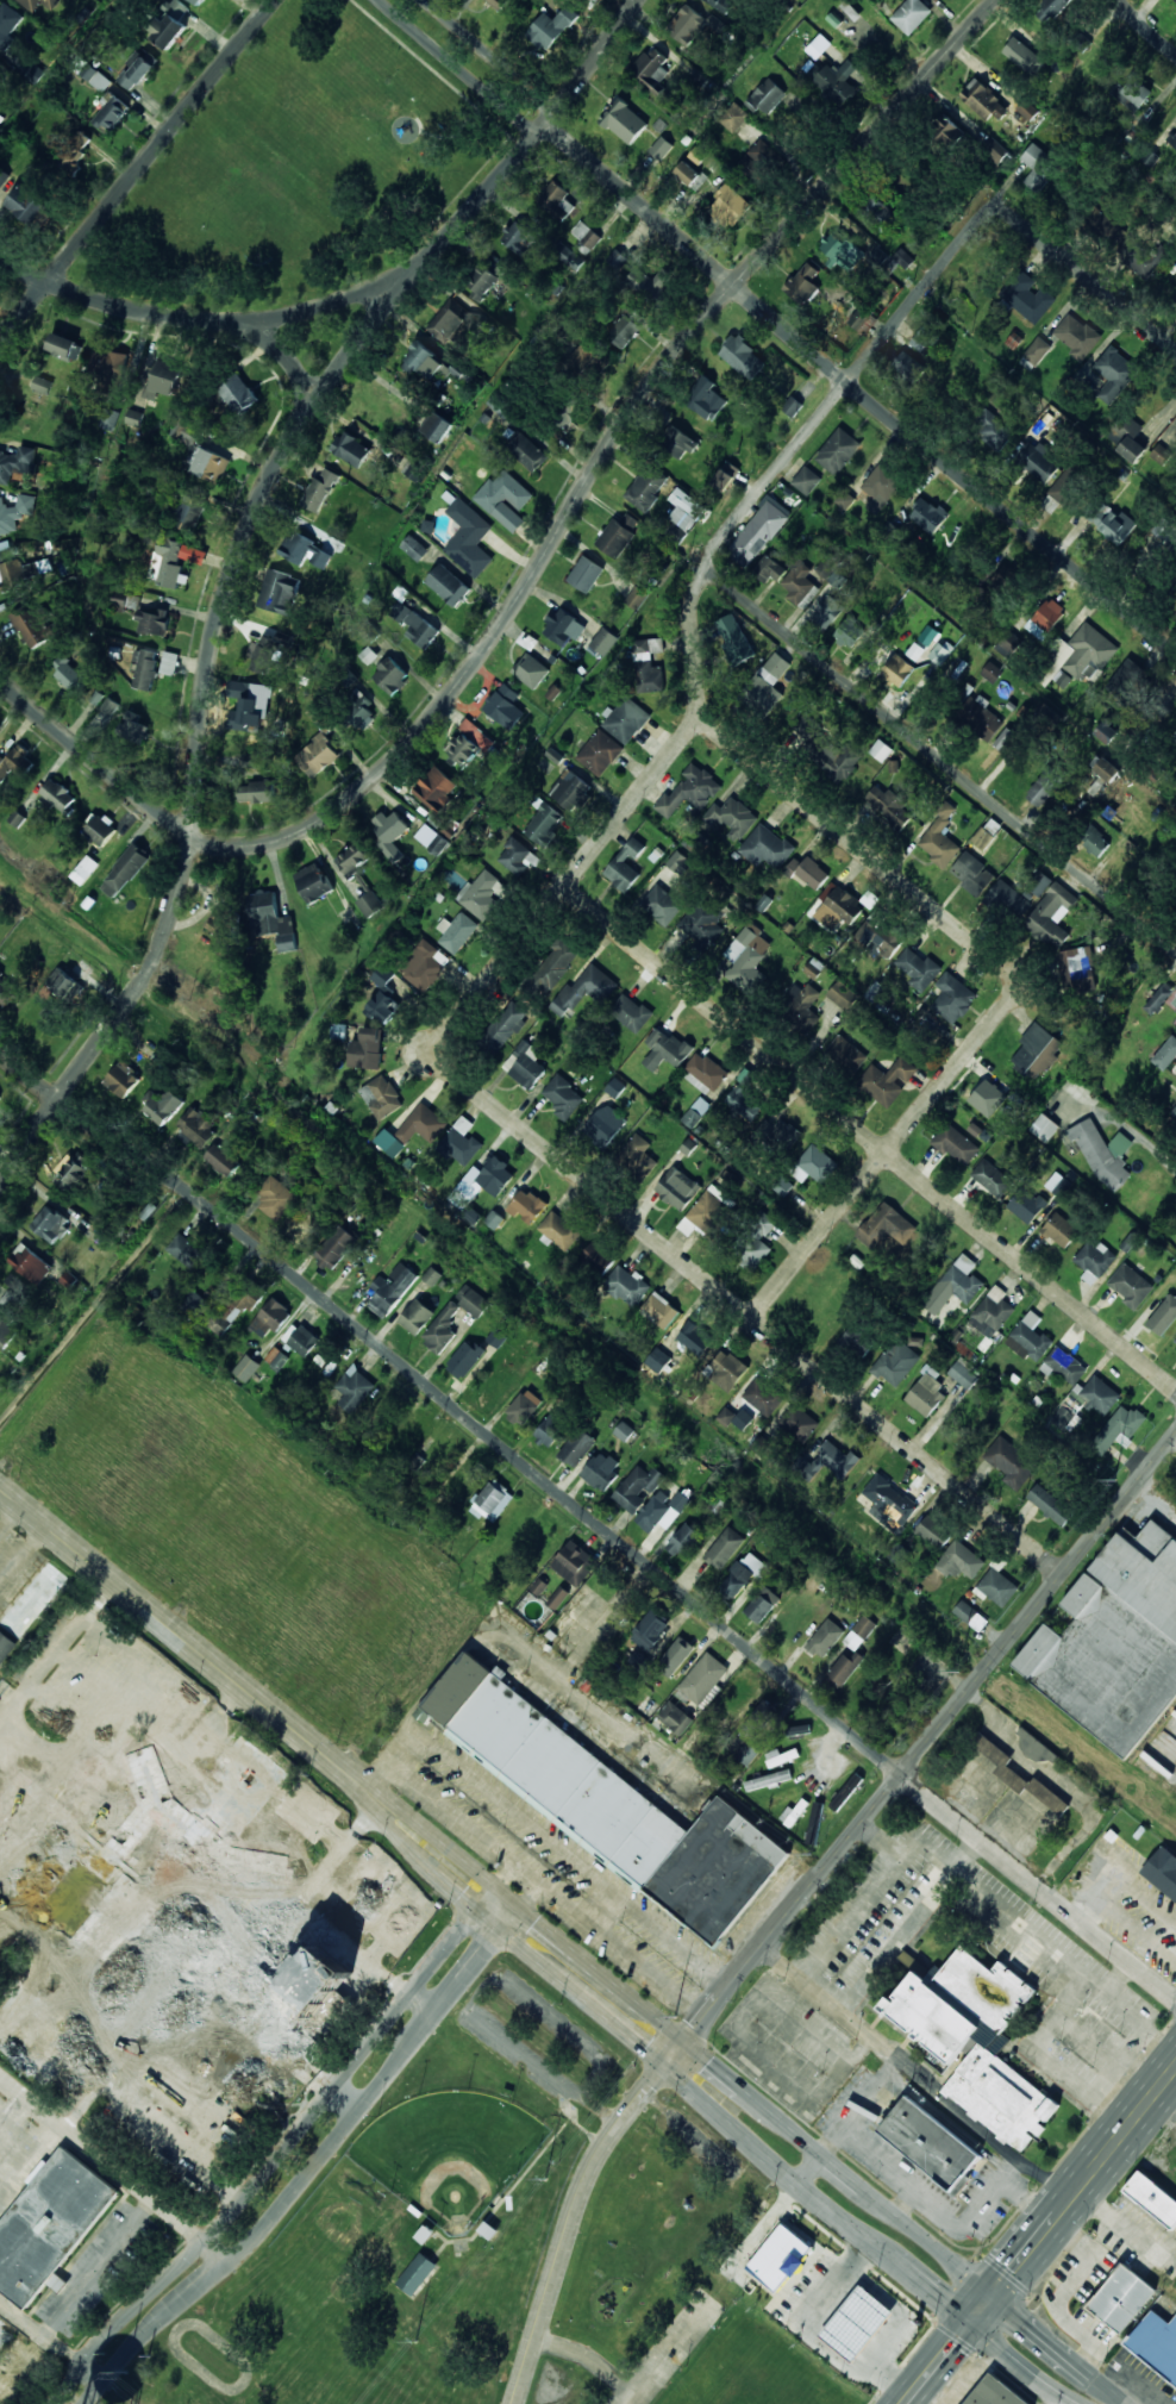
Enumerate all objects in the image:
building: (1175, 0)
building: (199, 2)
building: (38, 4)
building: (499, 4)
building: (721, 5)
building: (1051, 10)
building: (851, 11)
building: (911, 15)
building: (833, 20)
building: (8, 21)
building: (168, 24)
building: (687, 25)
building: (551, 27)
road: (1146, 27)
building: (813, 51)
road: (495, 55)
building: (1024, 56)
building: (1, 65)
road: (453, 68)
building: (652, 69)
building: (135, 71)
building: (33, 74)
building: (90, 74)
building: (834, 82)
building: (1132, 94)
building: (768, 96)
building: (983, 100)
building: (1027, 110)
building: (111, 112)
building: (733, 117)
building: (624, 121)
building: (945, 129)
building: (1172, 139)
building: (659, 149)
building: (73, 150)
building: (995, 150)
building: (758, 161)
building: (1037, 166)
road: (138, 170)
building: (690, 170)
building: (2, 177)
building: (556, 201)
building: (27, 205)
building: (728, 207)
building: (878, 213)
building: (586, 237)
building: (518, 238)
building: (840, 250)
building: (624, 252)
building: (565, 254)
building: (1137, 257)
building: (892, 260)
road: (1084, 281)
building: (650, 282)
building: (802, 283)
building: (481, 285)
building: (1027, 296)
road: (325, 304)
road: (174, 314)
building: (858, 319)
building: (452, 321)
building: (624, 331)
building: (1077, 335)
building: (926, 339)
building: (64, 346)
building: (1034, 354)
building: (588, 357)
building: (743, 357)
building: (424, 362)
building: (111, 367)
building: (908, 367)
building: (1114, 374)
building: (163, 380)
road: (859, 381)
road: (846, 383)
building: (42, 385)
building: (239, 393)
building: (705, 399)
building: (792, 406)
building: (567, 411)
building: (133, 418)
building: (1130, 424)
building: (437, 426)
building: (993, 429)
building: (677, 442)
building: (351, 449)
building: (1131, 449)
building: (838, 451)
building: (527, 452)
building: (1161, 454)
building: (1039, 461)
building: (15, 463)
building: (211, 466)
building: (726, 476)
building: (806, 480)
building: (881, 483)
building: (1068, 487)
building: (646, 488)
building: (320, 489)
building: (505, 499)
building: (846, 499)
building: (188, 507)
building: (14, 513)
building: (683, 514)
building: (927, 516)
building: (1109, 522)
building: (757, 533)
building: (618, 535)
building: (469, 538)
building: (414, 548)
building: (306, 551)
road: (236, 557)
building: (176, 561)
road: (540, 561)
building: (828, 566)
building: (768, 570)
building: (586, 574)
building: (12, 575)
building: (836, 579)
building: (797, 581)
building: (1000, 583)
building: (448, 585)
building: (279, 592)
building: (637, 598)
building: (827, 612)
building: (1049, 614)
building: (154, 622)
building: (35, 625)
building: (415, 625)
building: (563, 627)
building: (850, 632)
building: (928, 635)
building: (734, 637)
building: (603, 642)
building: (1006, 647)
building: (915, 651)
building: (942, 652)
building: (368, 655)
building: (1077, 657)
road: (1151, 661)
building: (169, 663)
building: (649, 666)
building: (145, 668)
building: (897, 669)
building: (531, 670)
building: (992, 672)
building: (68, 673)
building: (390, 675)
building: (1126, 680)
building: (768, 685)
building: (245, 706)
building: (505, 706)
building: (108, 707)
building: (358, 707)
building: (981, 718)
building: (625, 720)
building: (133, 726)
building: (1107, 731)
building: (467, 744)
building: (880, 750)
building: (600, 753)
building: (317, 756)
road: (940, 758)
building: (13, 761)
building: (1105, 768)
building: (1043, 786)
building: (436, 789)
building: (570, 789)
building: (690, 791)
building: (255, 792)
building: (60, 795)
building: (888, 806)
building: (17, 818)
building: (732, 818)
building: (544, 824)
road: (611, 826)
building: (100, 830)
building: (390, 833)
building: (987, 833)
building: (939, 838)
building: (1095, 842)
building: (438, 844)
building: (765, 847)
road: (859, 850)
building: (518, 857)
building: (354, 858)
building: (681, 863)
building: (626, 864)
building: (85, 870)
building: (124, 872)
building: (808, 872)
building: (972, 873)
building: (313, 882)
building: (1040, 883)
building: (483, 894)
building: (1009, 899)
building: (370, 904)
building: (662, 905)
building: (839, 906)
building: (1051, 916)
building: (270, 920)
building: (221, 922)
building: (702, 922)
building: (456, 932)
building: (878, 936)
building: (746, 960)
building: (553, 966)
building: (425, 967)
building: (80, 968)
building: (917, 968)
building: (1077, 968)
building: (0, 973)
building: (382, 976)
building: (65, 986)
building: (584, 989)
building: (5, 993)
building: (843, 995)
building: (952, 998)
building: (1158, 998)
building: (801, 1005)
building: (381, 1006)
building: (631, 1012)
building: (933, 1023)
building: (503, 1028)
building: (367, 1049)
building: (665, 1050)
building: (1037, 1051)
building: (845, 1054)
building: (1165, 1054)
building: (525, 1064)
road: (31, 1073)
building: (703, 1073)
building: (123, 1079)
building: (888, 1080)
building: (615, 1087)
building: (0, 1095)
building: (384, 1097)
building: (563, 1097)
building: (988, 1098)
building: (161, 1104)
building: (744, 1104)
building: (1175, 1111)
building: (696, 1112)
building: (423, 1124)
building: (603, 1125)
building: (1044, 1126)
building: (196, 1128)
building: (783, 1135)
road: (869, 1138)
building: (389, 1143)
building: (461, 1143)
building: (955, 1144)
road: (887, 1150)
building: (1103, 1154)
building: (637, 1155)
building: (221, 1160)
building: (814, 1166)
building: (74, 1172)
building: (992, 1178)
building: (487, 1179)
building: (677, 1188)
building: (276, 1198)
building: (1026, 1205)
building: (527, 1206)
building: (148, 1211)
building: (706, 1211)
building: (494, 1219)
building: (50, 1224)
building: (882, 1228)
building: (304, 1229)
building: (1059, 1230)
building: (559, 1231)
building: (755, 1244)
building: (336, 1248)
building: (184, 1250)
building: (598, 1257)
building: (1094, 1260)
building: (30, 1263)
building: (432, 1276)
building: (955, 1285)
building: (627, 1286)
building: (1130, 1286)
building: (392, 1288)
building: (473, 1300)
building: (10, 1301)
building: (194, 1304)
building: (234, 1307)
building: (659, 1310)
road: (744, 1312)
building: (992, 1312)
building: (1164, 1316)
building: (417, 1317)
building: (270, 1318)
building: (6, 1329)
building: (442, 1329)
building: (300, 1338)
building: (694, 1338)
building: (1030, 1338)
building: (858, 1340)
building: (1175, 1340)
building: (277, 1357)
building: (465, 1359)
building: (658, 1360)
building: (896, 1362)
building: (1063, 1366)
building: (246, 1368)
building: (727, 1369)
building: (963, 1374)
building: (355, 1388)
building: (926, 1393)
building: (1097, 1394)
building: (763, 1397)
building: (524, 1407)
building: (726, 1416)
building: (799, 1423)
building: (1120, 1428)
building: (550, 1430)
building: (624, 1431)
building: (577, 1447)
building: (827, 1462)
building: (1011, 1463)
building: (601, 1471)
building: (638, 1488)
building: (492, 1500)
building: (890, 1503)
building: (1050, 1505)
building: (659, 1509)
building: (934, 1532)
building: (681, 1540)
road: (15, 1541)
road: (621, 1543)
building: (725, 1548)
building: (961, 1561)
building: (574, 1563)
building: (744, 1574)
building: (997, 1587)
building: (558, 1598)
building: (33, 1600)
building: (762, 1604)
building: (970, 1616)
building: (859, 1632)
building: (648, 1636)
building: (825, 1638)
building: (1114, 1642)
building: (5, 1647)
building: (676, 1655)
building: (845, 1667)
building: (702, 1678)
building: (734, 1697)
building: (762, 1713)
building: (675, 1718)
building: (799, 1730)
road: (927, 1737)
building: (1034, 1746)
building: (746, 1753)
building: (781, 1756)
building: (1019, 1778)
building: (768, 1780)
building: (846, 1792)
building: (606, 1803)
building: (793, 1813)
building: (815, 1824)
building: (1162, 1873)
road: (496, 1897)
building: (184, 1909)
helipad: (288, 2011)
building: (947, 2049)
road: (329, 2122)
building: (930, 2143)
park: (449, 2154)
building: (1153, 2198)
road: (577, 2213)
building: (49, 2224)
road: (1040, 2236)
building: (780, 2258)
building: (417, 2274)
building: (1121, 2298)
building: (857, 2323)
building: (2, 2336)
building: (1156, 2343)
road: (1059, 2349)
building: (1, 2362)
road: (100, 2364)
road: (1015, 2365)
building: (995, 2393)
road: (133, 2402)

